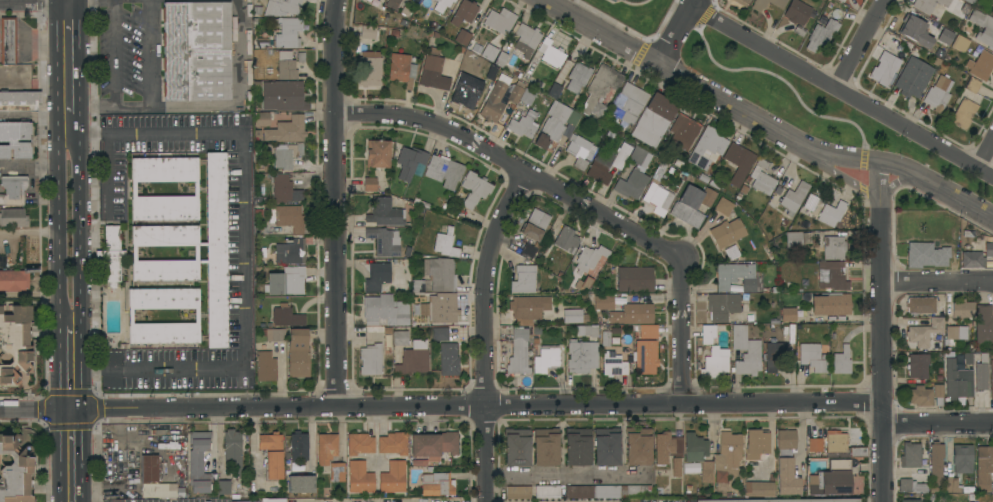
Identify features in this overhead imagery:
road: (69, 1)
building: (841, 1)
building: (969, 1)
road: (34, 2)
building: (741, 2)
building: (392, 4)
building: (442, 5)
building: (758, 5)
building: (928, 5)
building: (284, 7)
building: (256, 10)
building: (463, 12)
building: (796, 12)
building: (499, 21)
building: (912, 28)
building: (983, 28)
road: (675, 30)
building: (367, 32)
building: (288, 33)
building: (821, 35)
building: (462, 37)
building: (526, 40)
building: (7, 41)
building: (960, 43)
road: (858, 44)
building: (475, 48)
building: (195, 51)
road: (148, 53)
building: (550, 53)
building: (500, 59)
building: (980, 65)
building: (286, 66)
building: (370, 69)
building: (884, 69)
building: (401, 70)
building: (433, 71)
road: (69, 75)
road: (116, 77)
building: (577, 77)
building: (913, 77)
building: (971, 85)
building: (469, 90)
building: (554, 90)
building: (600, 90)
building: (515, 91)
road: (840, 92)
building: (283, 96)
building: (527, 97)
building: (934, 100)
building: (19, 101)
building: (631, 102)
road: (228, 106)
building: (493, 107)
building: (964, 113)
road: (35, 116)
building: (261, 119)
building: (653, 121)
building: (555, 124)
road: (764, 124)
building: (523, 125)
building: (286, 130)
building: (683, 132)
building: (15, 140)
building: (707, 148)
building: (579, 151)
road: (984, 152)
building: (377, 154)
building: (286, 155)
building: (409, 162)
building: (738, 163)
building: (607, 164)
road: (512, 166)
road: (35, 170)
building: (444, 171)
building: (660, 171)
building: (634, 175)
building: (761, 178)
road: (894, 182)
building: (369, 184)
building: (12, 189)
building: (132, 189)
building: (474, 189)
building: (284, 190)
building: (794, 198)
building: (659, 199)
road: (333, 202)
building: (810, 204)
building: (692, 205)
building: (723, 207)
building: (384, 213)
building: (831, 214)
building: (13, 218)
building: (286, 218)
building: (535, 226)
road: (71, 228)
building: (727, 232)
building: (796, 238)
building: (566, 240)
building: (384, 242)
building: (445, 244)
building: (833, 248)
building: (216, 250)
building: (528, 250)
building: (989, 250)
road: (241, 251)
building: (290, 252)
building: (196, 253)
building: (112, 255)
building: (925, 255)
building: (589, 258)
building: (972, 260)
building: (440, 274)
building: (832, 276)
building: (376, 277)
building: (736, 277)
building: (523, 279)
building: (634, 279)
building: (14, 280)
road: (936, 281)
building: (286, 282)
building: (583, 284)
building: (417, 286)
building: (603, 302)
building: (831, 304)
building: (722, 306)
building: (923, 306)
building: (442, 308)
building: (528, 308)
building: (962, 309)
building: (385, 310)
building: (632, 314)
building: (787, 314)
building: (196, 316)
building: (574, 316)
building: (286, 317)
building: (918, 322)
building: (983, 326)
building: (386, 330)
road: (482, 331)
building: (586, 331)
road: (682, 331)
road: (880, 331)
building: (648, 332)
building: (926, 332)
building: (440, 334)
building: (707, 334)
building: (955, 334)
building: (273, 335)
building: (399, 338)
building: (605, 339)
building: (14, 343)
building: (753, 352)
building: (297, 353)
building: (518, 353)
building: (773, 355)
building: (581, 356)
building: (645, 357)
building: (812, 357)
road: (71, 358)
building: (373, 358)
building: (545, 359)
building: (448, 360)
building: (841, 361)
building: (412, 362)
building: (715, 363)
building: (613, 364)
building: (265, 366)
building: (917, 366)
building: (981, 372)
building: (991, 374)
building: (957, 381)
building: (938, 394)
building: (920, 396)
road: (440, 403)
traffic signals: (70, 408)
road: (937, 422)
building: (392, 443)
building: (359, 444)
building: (756, 445)
building: (815, 445)
building: (298, 446)
building: (577, 446)
building: (638, 446)
building: (431, 447)
building: (545, 447)
building: (606, 447)
building: (666, 447)
building: (842, 447)
building: (326, 448)
building: (516, 448)
building: (232, 451)
building: (271, 454)
road: (70, 455)
building: (698, 455)
building: (910, 456)
building: (962, 458)
building: (727, 460)
building: (198, 462)
building: (936, 462)
building: (786, 463)
building: (676, 467)
building: (983, 467)
building: (15, 471)
building: (337, 472)
building: (392, 477)
building: (359, 478)
building: (831, 479)
building: (153, 480)
road: (565, 480)
building: (435, 483)
building: (301, 484)
building: (952, 485)
building: (912, 486)
building: (223, 487)
building: (759, 489)
building: (608, 491)
building: (518, 492)
building: (546, 492)
building: (124, 493)
building: (273, 500)
building: (782, 500)
building: (238, 501)
building: (910, 501)

